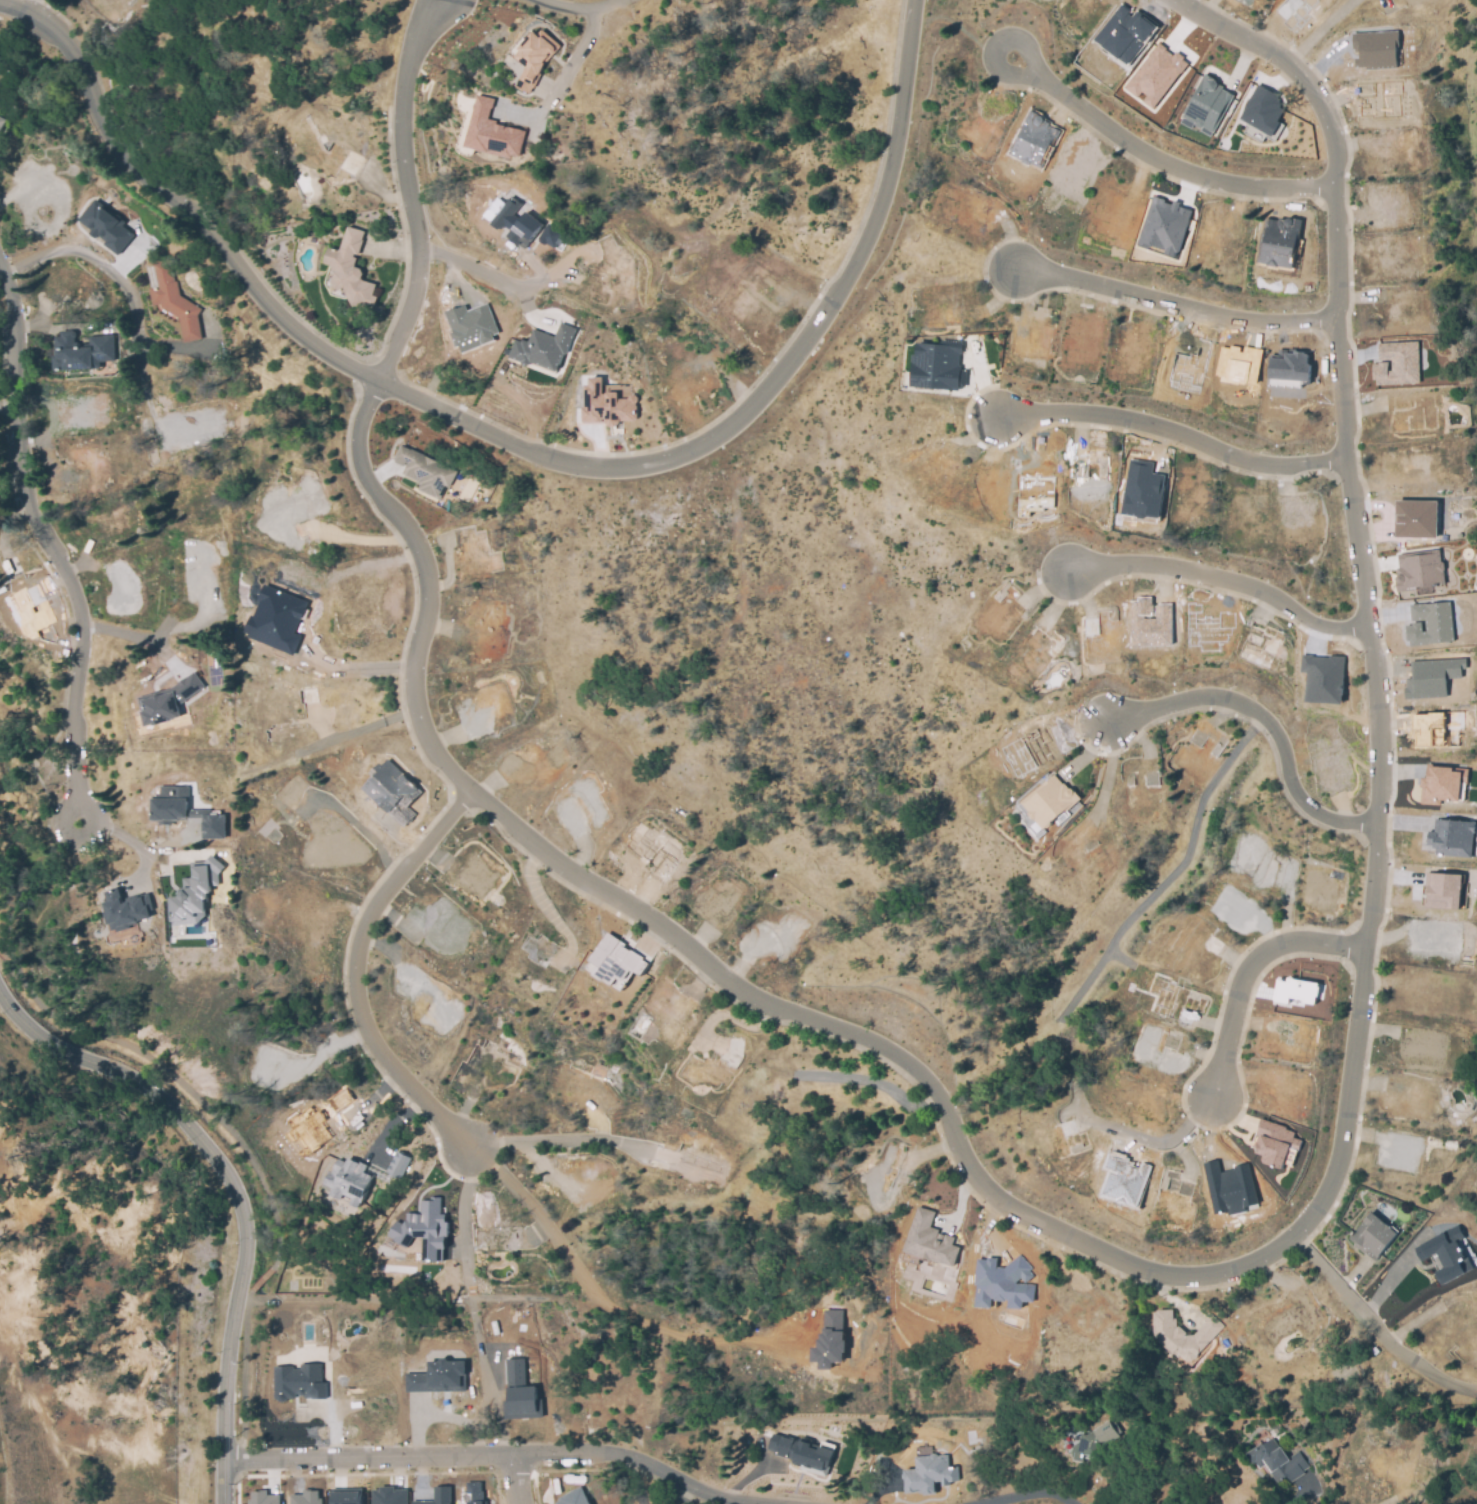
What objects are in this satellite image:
road: (28, 7)
road: (580, 9)
road: (1318, 32)
building: (1124, 33)
building: (1374, 48)
building: (536, 55)
building: (1155, 75)
building: (1206, 106)
building: (1262, 110)
building: (0, 113)
building: (2, 123)
building: (493, 132)
building: (1033, 140)
road: (1158, 166)
road: (408, 190)
building: (517, 223)
building: (1164, 226)
building: (107, 227)
building: (551, 236)
building: (1278, 242)
road: (84, 255)
building: (351, 270)
road: (472, 272)
building: (175, 302)
road: (1175, 308)
building: (468, 329)
building: (546, 348)
building: (85, 352)
road: (968, 362)
building: (1396, 363)
building: (1238, 364)
building: (937, 366)
building: (1288, 368)
road: (981, 382)
building: (608, 403)
road: (1171, 432)
road: (518, 446)
building: (425, 473)
building: (1142, 490)
building: (1415, 518)
road: (50, 552)
building: (1418, 570)
building: (1476, 579)
road: (1222, 581)
building: (275, 619)
building: (1150, 623)
building: (1430, 623)
road: (182, 626)
road: (129, 635)
road: (359, 668)
building: (1431, 677)
building: (1323, 678)
building: (168, 702)
road: (1265, 723)
building: (1436, 728)
road: (366, 729)
building: (1441, 784)
building: (391, 791)
building: (1050, 802)
building: (170, 804)
building: (212, 825)
building: (1453, 837)
road: (139, 848)
building: (214, 864)
road: (1175, 872)
road: (135, 874)
building: (1444, 890)
building: (192, 894)
building: (124, 912)
building: (616, 960)
road: (353, 971)
road: (1246, 974)
building: (1298, 991)
building: (308, 1130)
road: (563, 1138)
building: (1274, 1143)
building: (397, 1163)
building: (349, 1180)
building: (1124, 1180)
building: (1230, 1188)
road: (236, 1190)
road: (544, 1221)
building: (423, 1229)
building: (1372, 1237)
building: (929, 1239)
building: (1445, 1254)
road: (1239, 1268)
building: (1003, 1283)
road: (471, 1306)
road: (1375, 1325)
building: (1184, 1336)
building: (829, 1339)
road: (701, 1340)
building: (437, 1377)
building: (298, 1382)
building: (519, 1393)
building: (1096, 1443)
building: (780, 1445)
road: (453, 1456)
building: (811, 1456)
building: (1280, 1461)
building: (928, 1472)
road: (512, 1482)
road: (690, 1487)
building: (474, 1493)
building: (346, 1495)
building: (389, 1495)
road: (1030, 1495)
building: (437, 1496)
building: (262, 1497)
building: (306, 1497)
building: (573, 1497)

